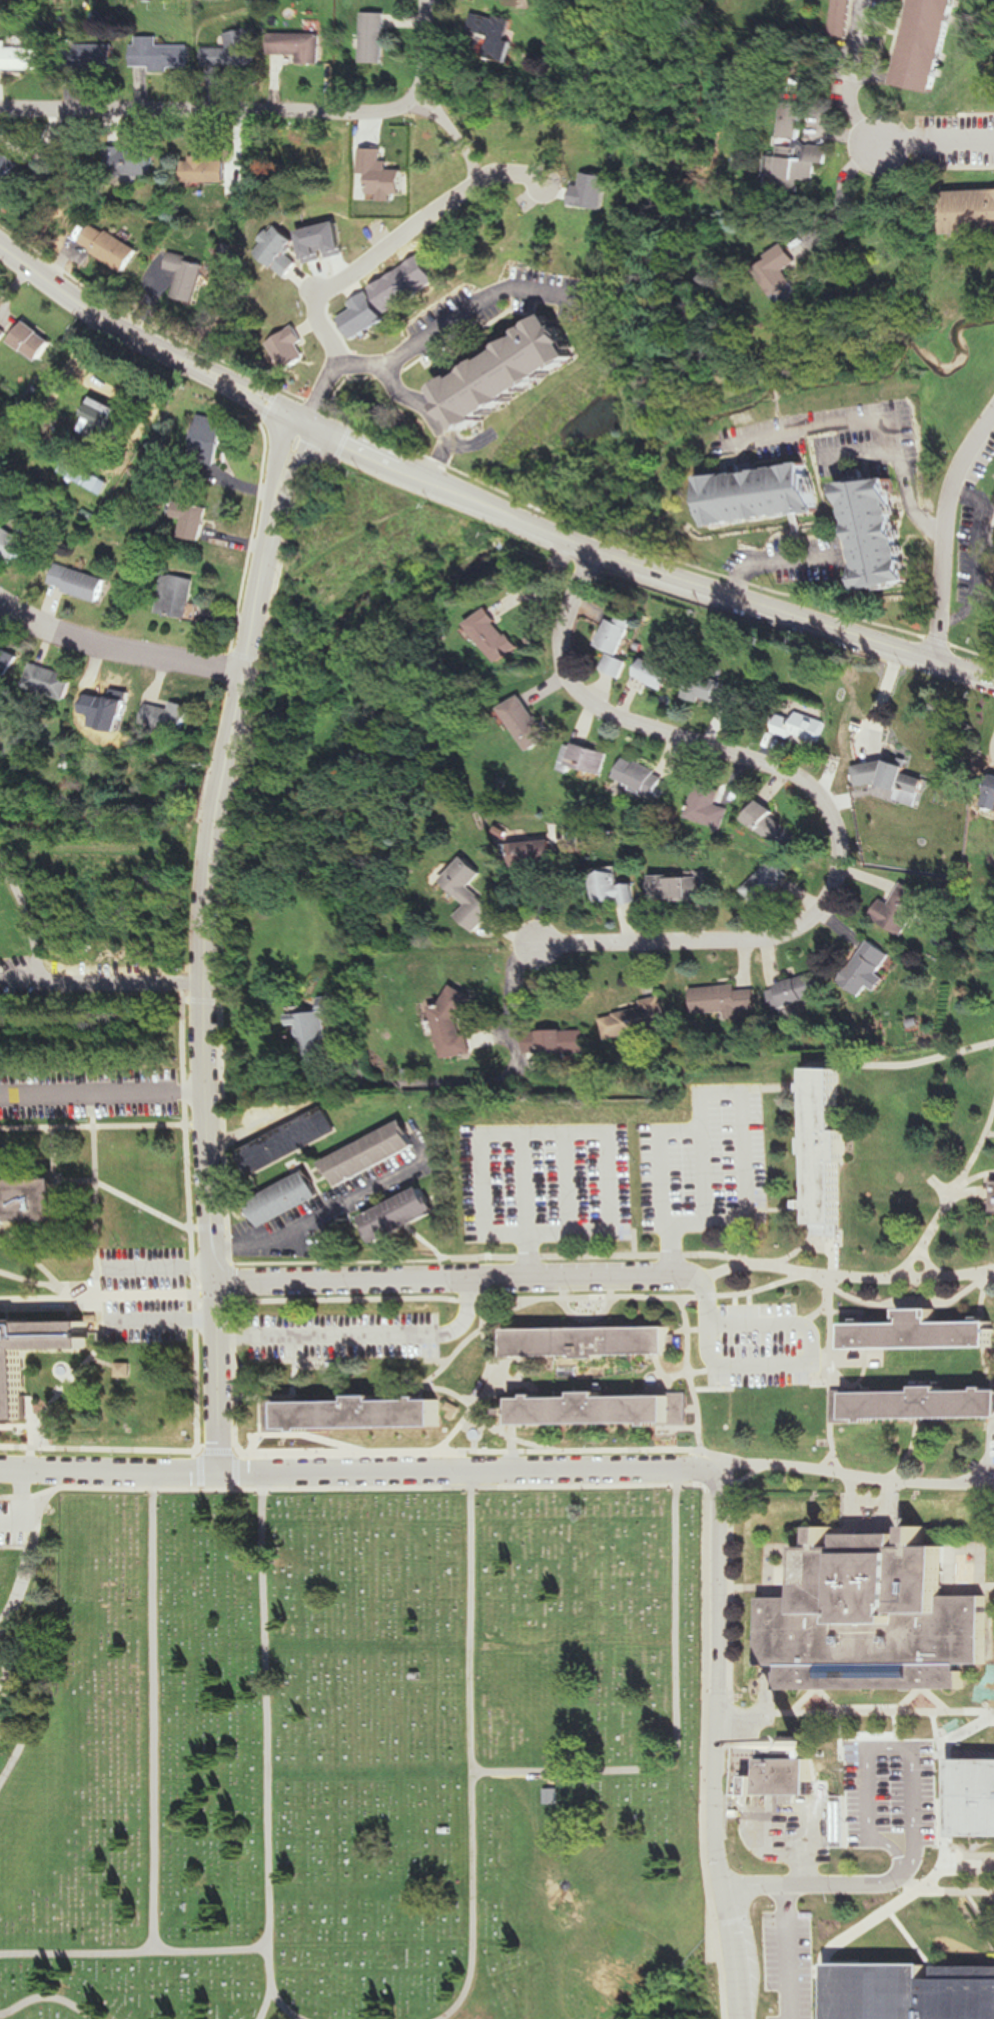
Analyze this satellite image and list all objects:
building: (844, 18)
building: (496, 32)
building: (376, 39)
building: (928, 43)
parking lot: (860, 45)
building: (301, 46)
building: (236, 51)
building: (162, 55)
building: (21, 57)
building: (93, 57)
road: (892, 63)
road: (854, 69)
road: (256, 111)
parking lot: (948, 141)
road: (929, 144)
building: (798, 156)
building: (134, 162)
building: (12, 170)
building: (208, 170)
building: (972, 213)
building: (112, 246)
building: (396, 273)
building: (784, 275)
building: (190, 276)
road: (441, 331)
building: (3, 334)
building: (35, 342)
building: (518, 372)
road: (436, 414)
building: (109, 415)
road: (831, 426)
building: (211, 440)
parking lot: (832, 441)
road: (906, 462)
road: (277, 468)
road: (292, 475)
building: (87, 477)
road: (976, 479)
building: (766, 495)
road: (479, 499)
building: (194, 521)
road: (943, 530)
road: (982, 531)
building: (881, 532)
road: (991, 539)
building: (16, 543)
road: (648, 550)
parking lot: (974, 552)
parking lot: (791, 561)
road: (779, 564)
building: (991, 570)
building: (80, 582)
building: (178, 596)
road: (960, 616)
building: (499, 634)
building: (620, 643)
road: (120, 651)
road: (253, 653)
building: (10, 658)
building: (659, 673)
building: (56, 681)
building: (714, 690)
building: (112, 700)
road: (607, 710)
building: (177, 715)
building: (531, 722)
building: (803, 727)
building: (592, 757)
building: (644, 776)
building: (894, 779)
road: (230, 789)
building: (714, 805)
building: (771, 821)
building: (538, 852)
building: (769, 882)
building: (685, 886)
building: (617, 887)
building: (473, 893)
building: (899, 908)
road: (768, 936)
building: (866, 968)
road: (104, 982)
building: (800, 989)
building: (727, 998)
building: (637, 1019)
building: (459, 1023)
building: (323, 1030)
building: (558, 1041)
road: (921, 1059)
road: (104, 1090)
parking lot: (92, 1093)
road: (95, 1126)
road: (990, 1133)
road: (209, 1135)
road: (247, 1137)
building: (294, 1142)
building: (829, 1143)
building: (376, 1153)
parking lot: (711, 1163)
road: (34, 1176)
parking lot: (548, 1182)
road: (568, 1183)
road: (747, 1183)
road: (107, 1184)
road: (952, 1196)
building: (292, 1199)
building: (35, 1200)
road: (527, 1207)
building: (403, 1214)
road: (193, 1215)
road: (321, 1220)
road: (615, 1233)
road: (824, 1235)
road: (428, 1241)
road: (811, 1249)
road: (672, 1250)
road: (596, 1256)
road: (40, 1261)
road: (330, 1261)
road: (161, 1269)
road: (105, 1270)
road: (993, 1272)
road: (844, 1276)
road: (457, 1280)
road: (37, 1281)
road: (767, 1286)
parking lot: (147, 1292)
road: (101, 1295)
road: (701, 1296)
road: (50, 1299)
road: (710, 1299)
road: (391, 1300)
road: (914, 1306)
road: (163, 1321)
road: (106, 1323)
building: (925, 1332)
road: (363, 1335)
parking lot: (340, 1336)
building: (595, 1342)
road: (465, 1344)
road: (488, 1344)
parking lot: (758, 1344)
road: (64, 1350)
road: (830, 1353)
road: (106, 1361)
road: (688, 1364)
road: (812, 1367)
building: (14, 1383)
road: (516, 1383)
road: (468, 1402)
building: (925, 1403)
building: (600, 1409)
building: (368, 1413)
road: (65, 1426)
road: (509, 1435)
road: (101, 1448)
road: (910, 1448)
road: (211, 1449)
road: (235, 1449)
road: (476, 1449)
road: (715, 1455)
road: (721, 1468)
road: (983, 1469)
road: (355, 1473)
road: (862, 1474)
road: (911, 1479)
road: (630, 1484)
road: (12, 1497)
road: (23, 1506)
parking lot: (11, 1522)
road: (29, 1522)
road: (17, 1545)
road: (29, 1567)
building: (878, 1617)
road: (724, 1680)
road: (928, 1687)
road: (10, 1690)
road: (821, 1690)
road: (25, 1710)
road: (155, 1711)
road: (859, 1712)
road: (681, 1716)
road: (903, 1729)
chimney: (813, 1745)
road: (895, 1748)
road: (474, 1753)
road: (269, 1754)
park: (359, 1756)
building: (792, 1772)
road: (944, 1785)
parking lot: (895, 1793)
building: (556, 1797)
building: (973, 1798)
road: (768, 1801)
parking lot: (790, 1827)
road: (951, 1859)
road: (898, 1861)
road: (809, 1873)
road: (833, 1884)
road: (963, 1891)
road: (928, 1899)
road: (135, 1950)
road: (740, 1952)
building: (894, 1987)
road: (50, 1996)
road: (268, 2004)

